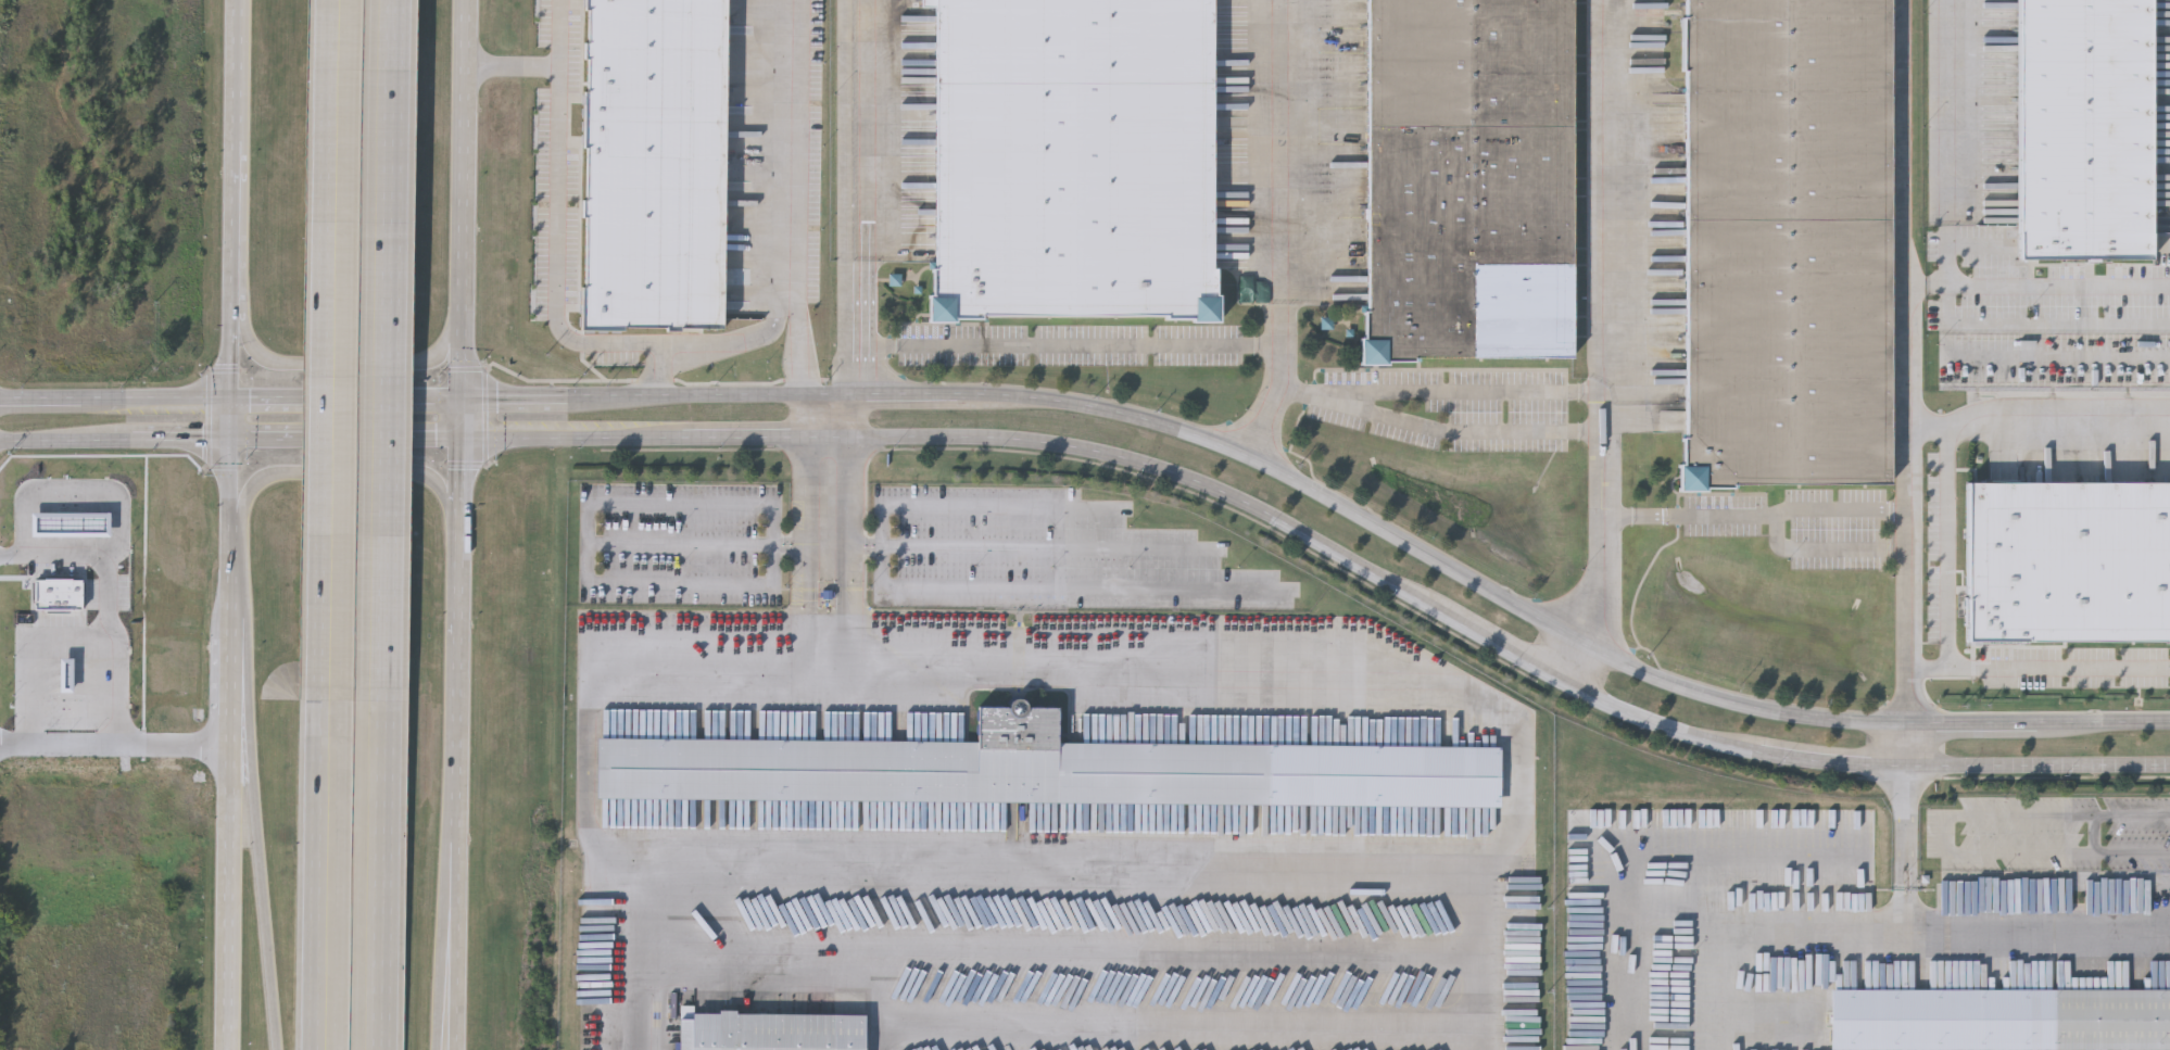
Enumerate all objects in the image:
road: (545, 68)
road: (239, 69)
building: (2083, 131)
road: (1946, 142)
building: (1075, 160)
building: (656, 164)
building: (1472, 181)
road: (238, 188)
road: (803, 201)
road: (462, 220)
road: (848, 225)
road: (1275, 233)
building: (1789, 244)
road: (557, 253)
road: (237, 277)
road: (2036, 284)
road: (708, 342)
road: (1600, 349)
road: (1062, 350)
road: (387, 351)
road: (337, 352)
road: (235, 360)
road: (1903, 364)
road: (349, 365)
road: (1438, 393)
traffic signals: (461, 402)
road: (346, 403)
road: (116, 404)
traffic signals: (234, 404)
road: (819, 425)
road: (2036, 426)
road: (1460, 431)
road: (124, 442)
road: (355, 442)
traffic signals: (461, 442)
traffic signals: (235, 443)
road: (572, 443)
road: (757, 446)
road: (345, 473)
road: (1151, 475)
road: (459, 479)
road: (80, 498)
road: (1330, 504)
road: (1822, 511)
road: (590, 542)
road: (775, 545)
road: (821, 545)
road: (1025, 546)
road: (1952, 547)
road: (49, 556)
building: (2068, 565)
road: (933, 587)
road: (119, 638)
road: (1494, 649)
road: (454, 668)
road: (2039, 669)
road: (228, 726)
road: (1653, 729)
road: (114, 741)
road: (1902, 750)
road: (1833, 766)
road: (2035, 771)
building: (1047, 772)
road: (1946, 836)
road: (255, 850)
road: (1904, 852)
road: (1372, 863)
road: (374, 875)
road: (329, 876)
road: (2036, 927)
road: (437, 934)
road: (449, 935)
road: (1781, 943)
road: (651, 953)
road: (1486, 957)
building: (2107, 1020)
building: (772, 1033)

